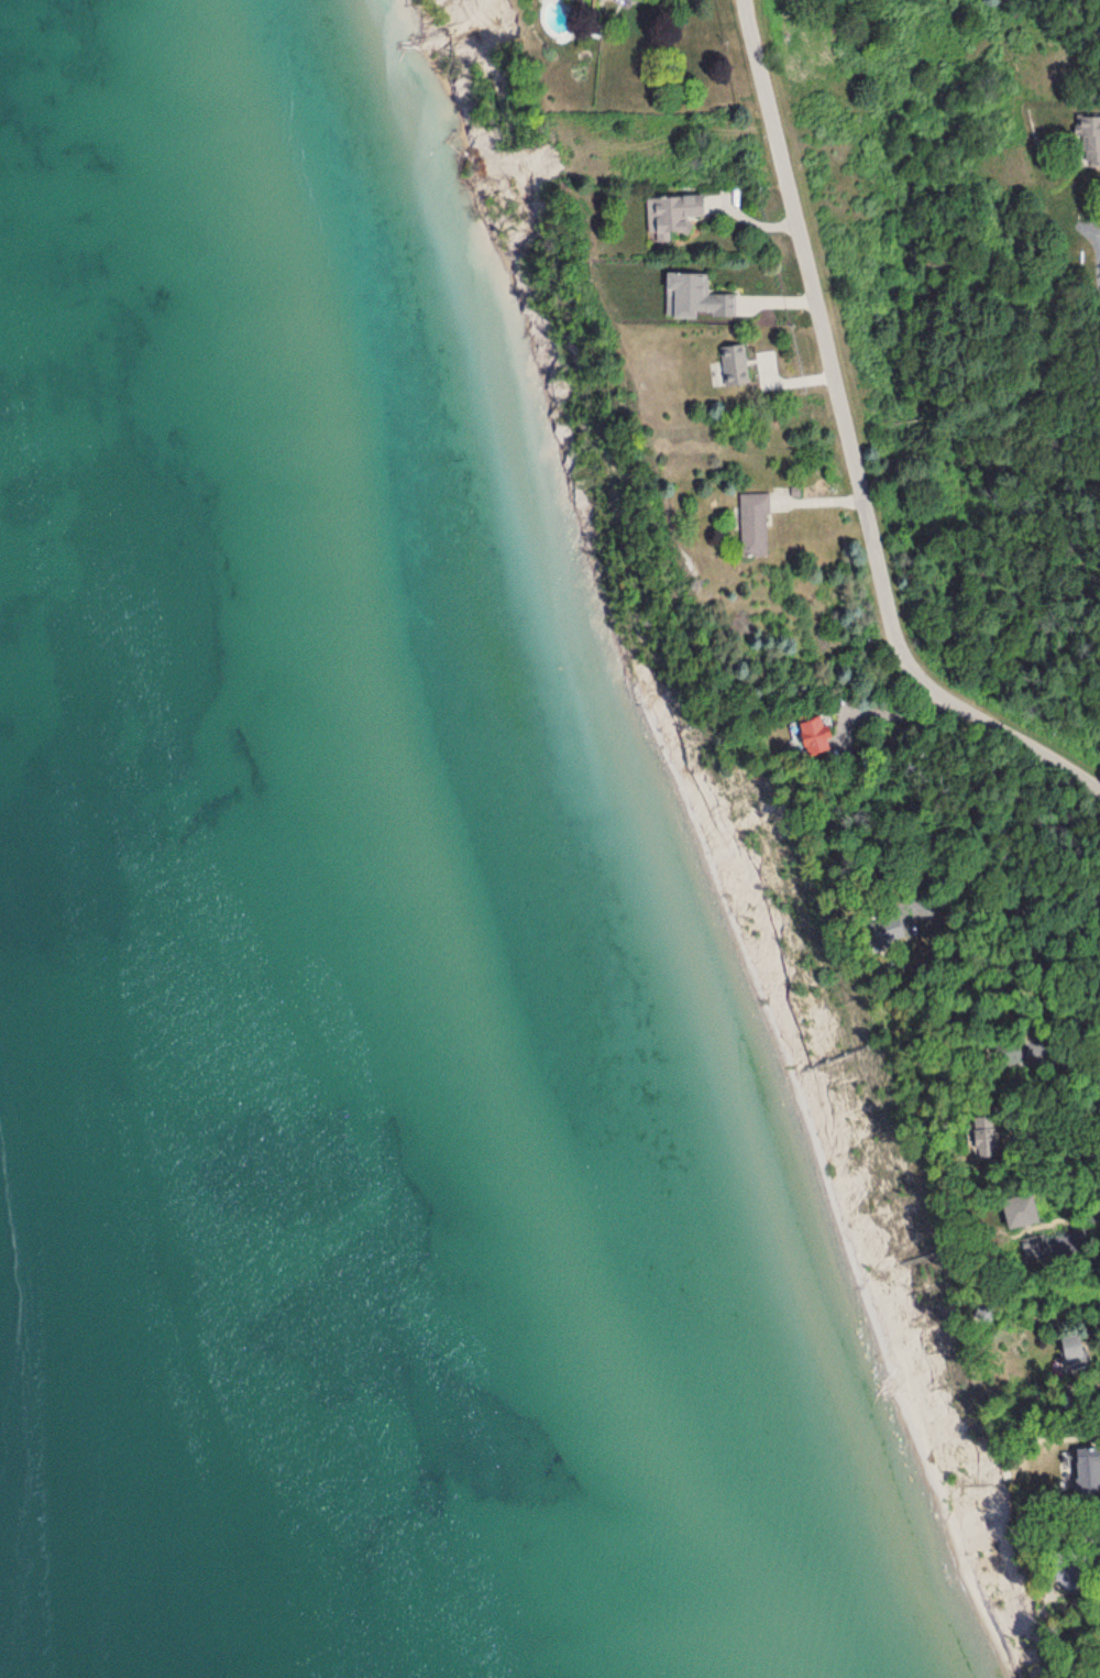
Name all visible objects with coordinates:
building: (681, 216)
building: (710, 298)
building: (735, 369)
road: (851, 447)
building: (761, 526)
building: (828, 737)
road: (1031, 906)
building: (1025, 1213)
road: (1087, 1222)

